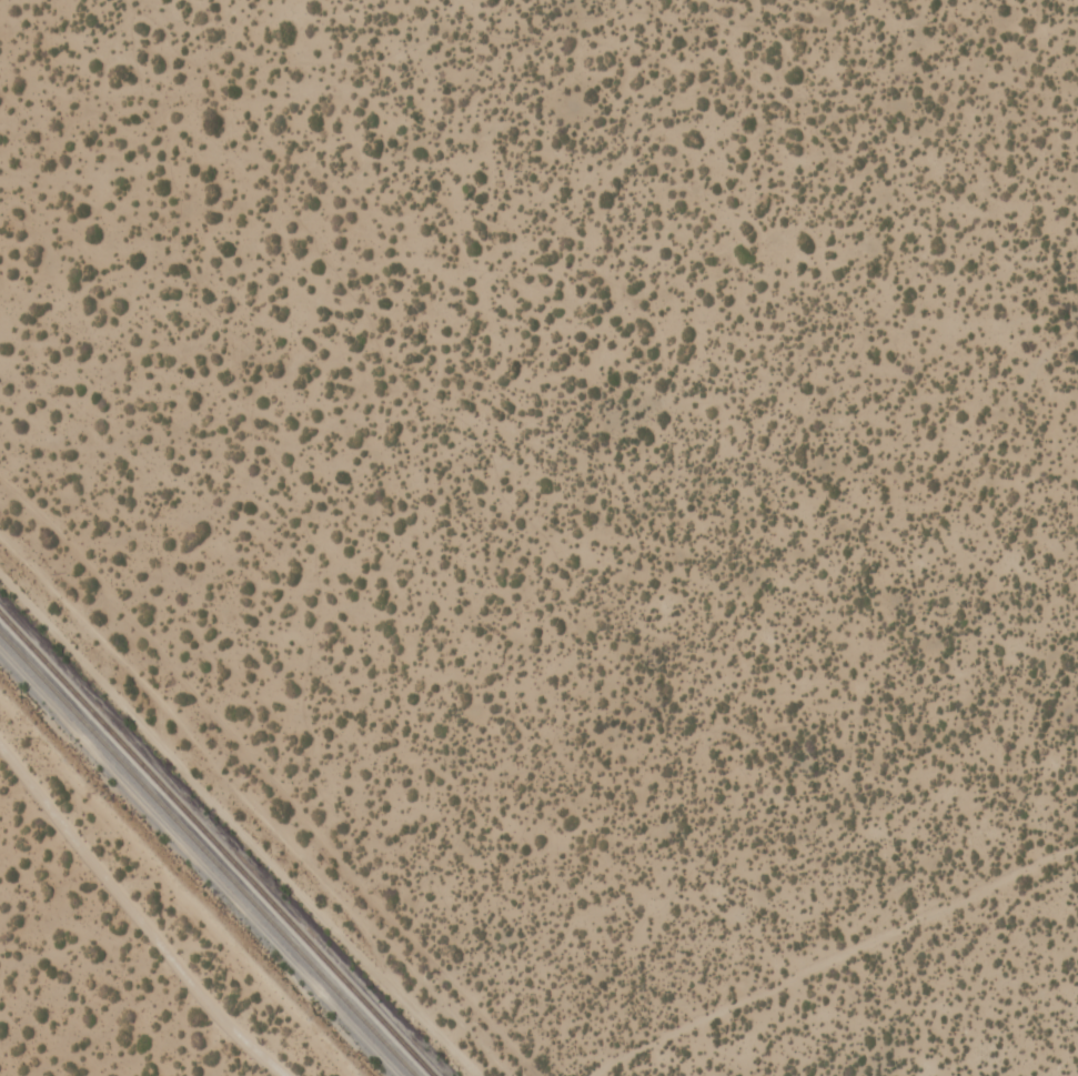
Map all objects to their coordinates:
road: (262, 780)
road: (234, 828)
railway: (215, 846)
railway: (206, 855)
road: (150, 914)
road: (832, 957)

